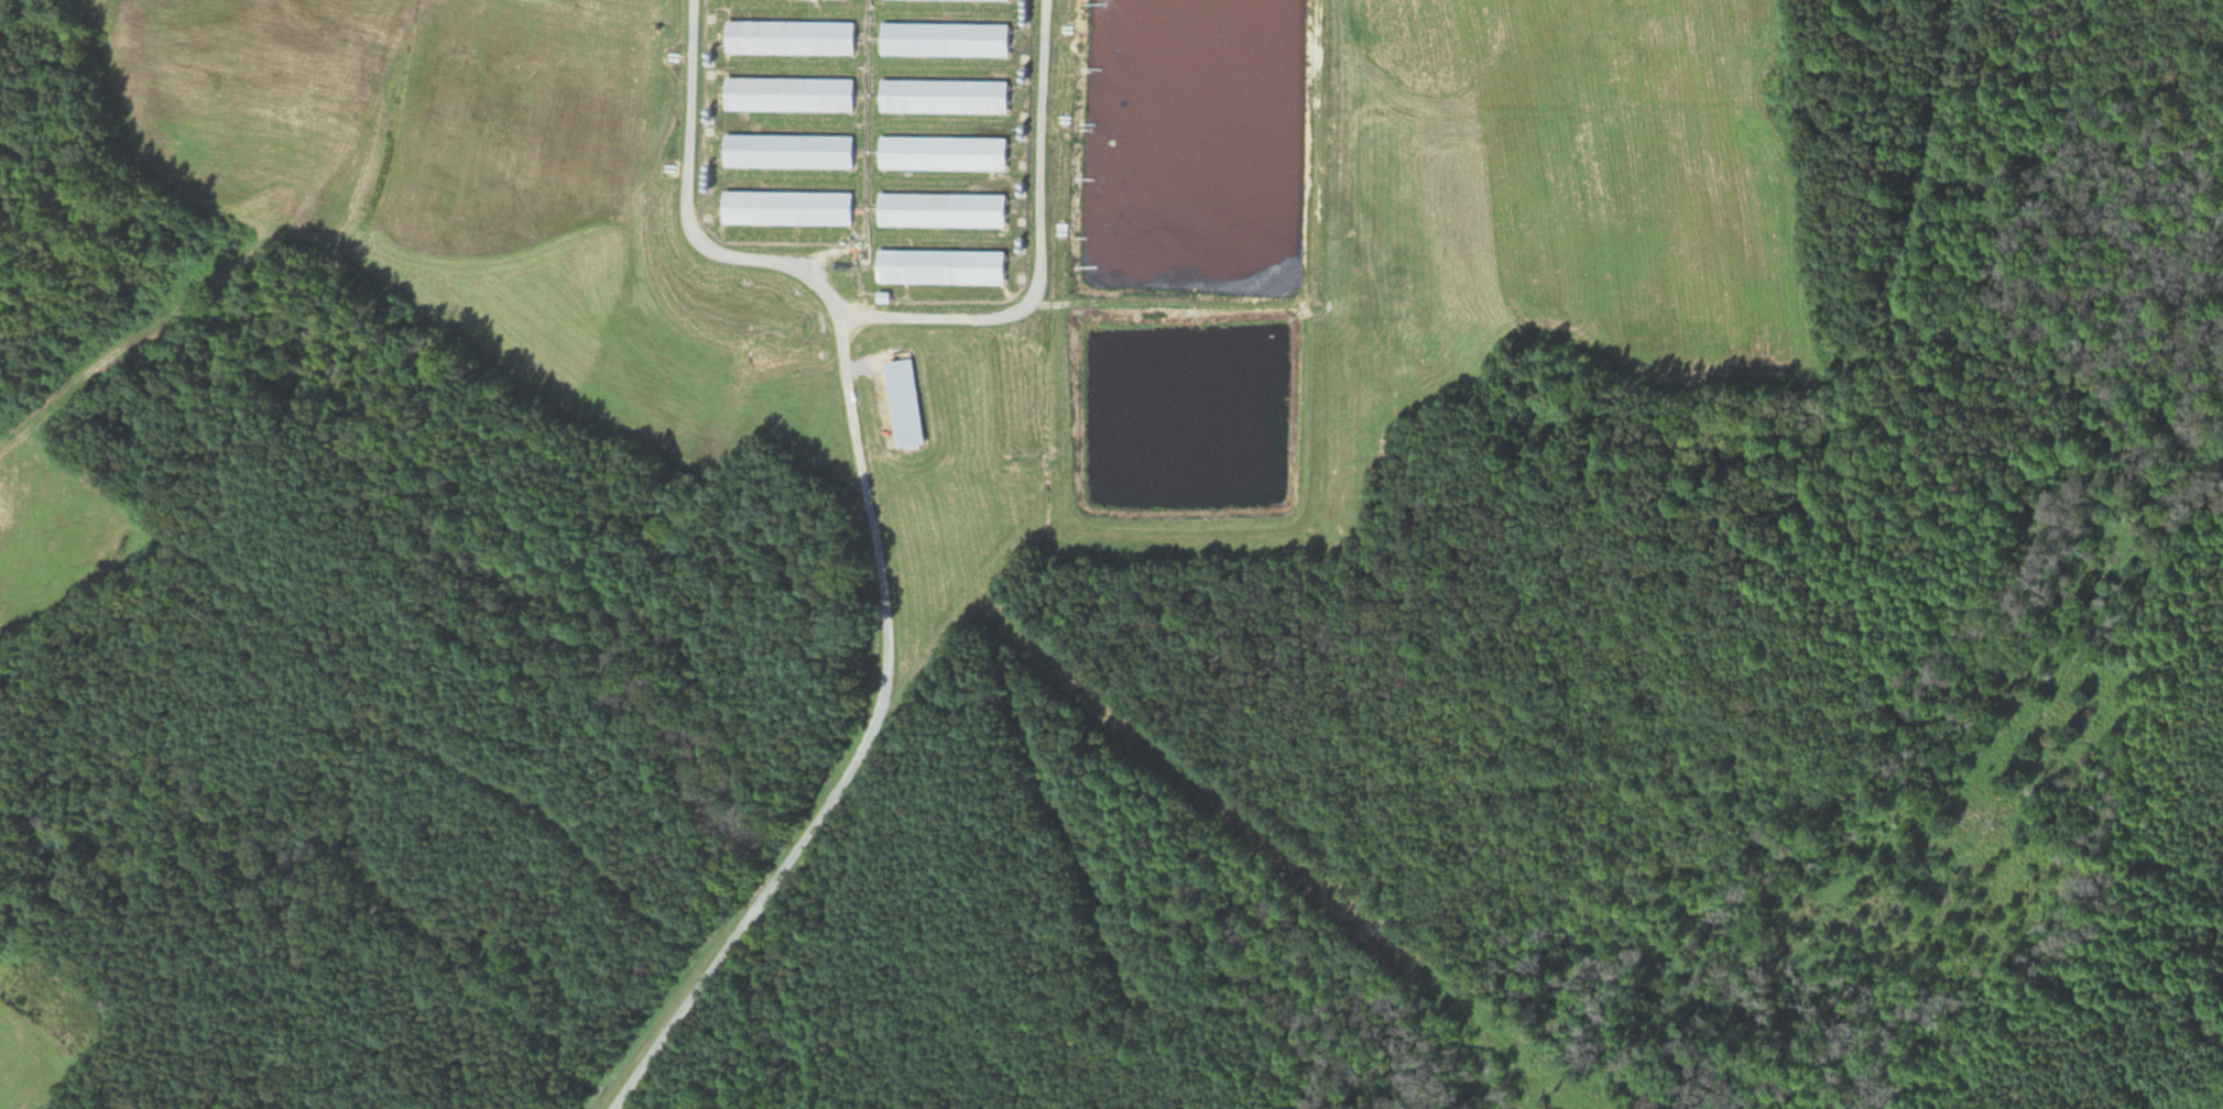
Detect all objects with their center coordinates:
building: (965, 0)
building: (794, 37)
building: (948, 40)
building: (794, 94)
building: (947, 97)
building: (793, 151)
building: (947, 153)
building: (793, 208)
building: (947, 209)
road: (1040, 250)
building: (946, 266)
road: (870, 542)

